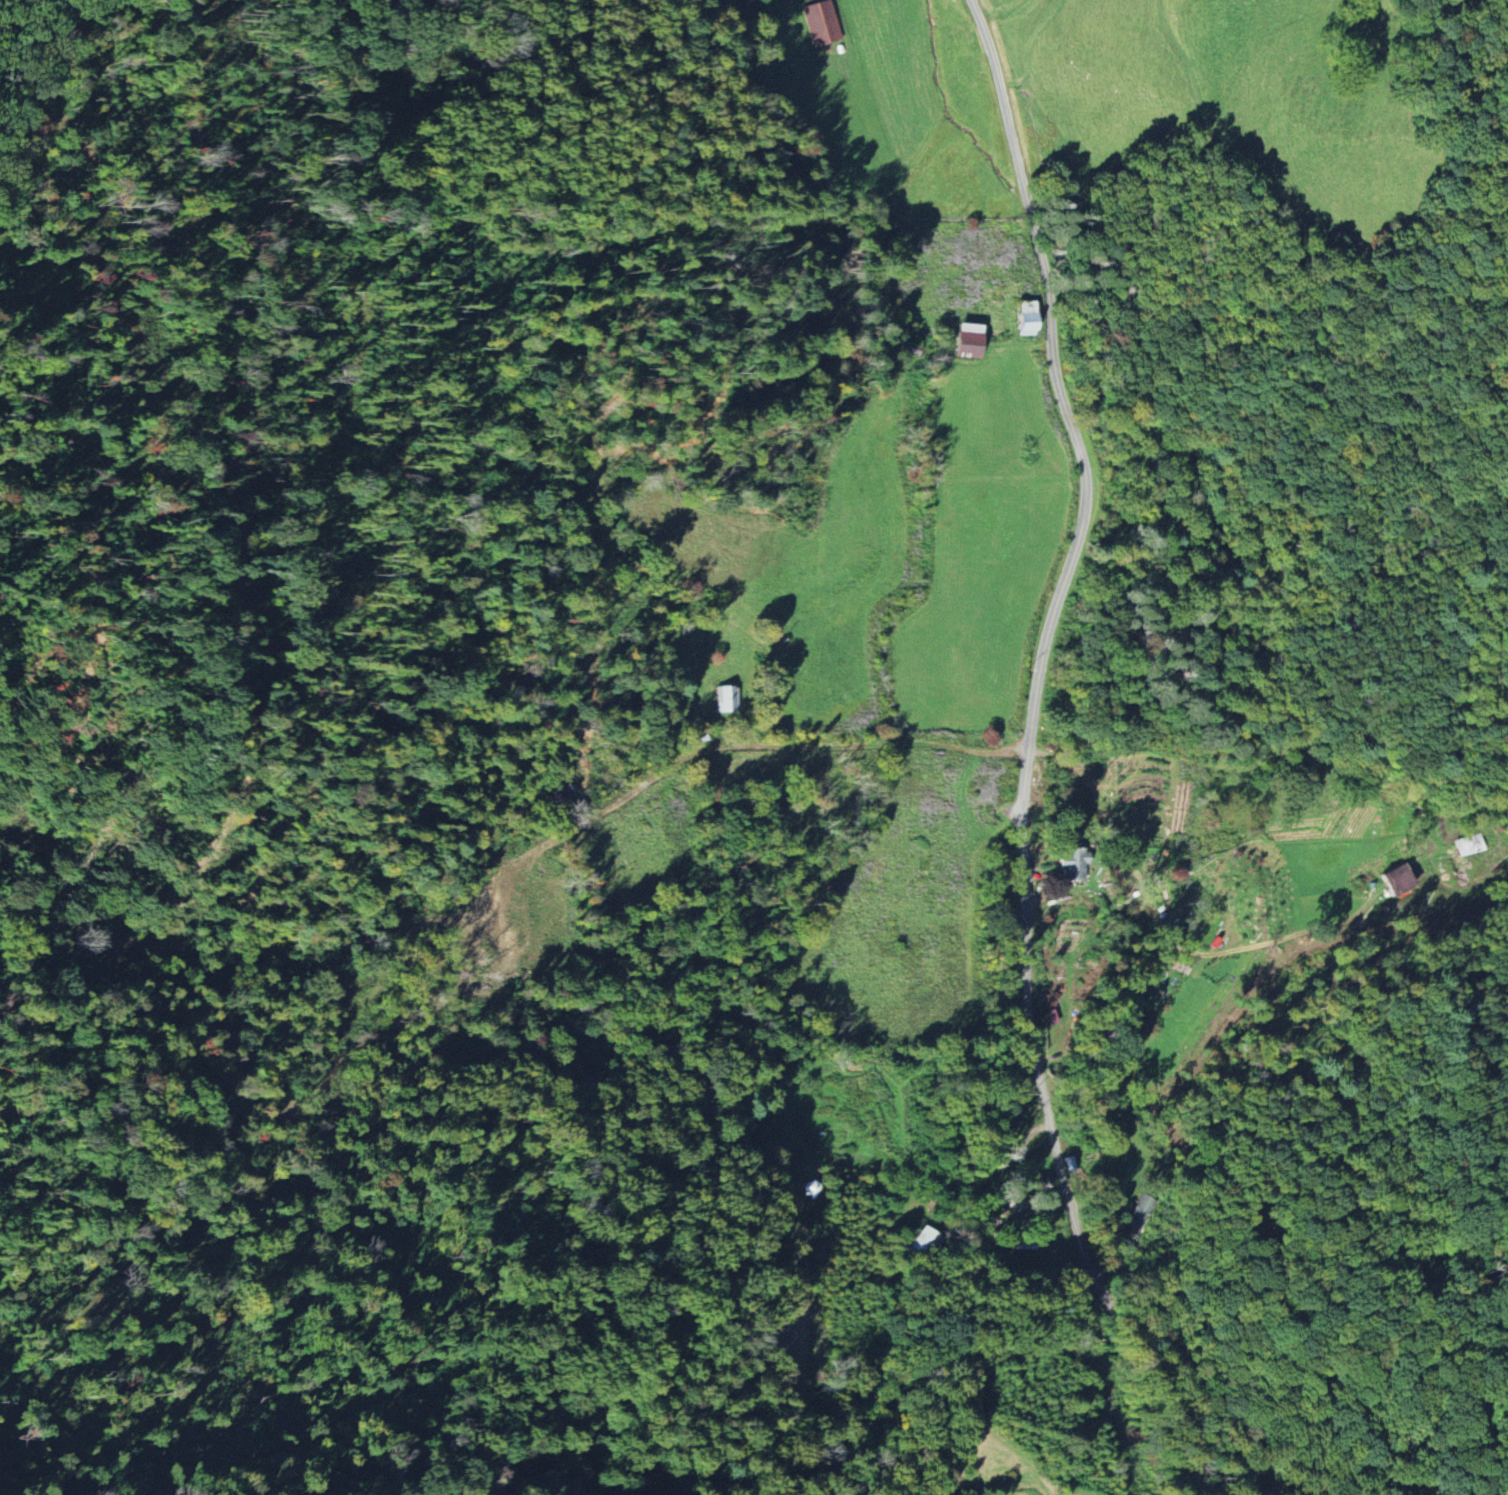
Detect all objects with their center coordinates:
building: (820, 23)
road: (1011, 131)
building: (1026, 321)
building: (967, 341)
road: (1084, 505)
building: (725, 698)
building: (561, 795)
building: (1469, 845)
building: (1073, 863)
building: (1396, 879)
road: (1170, 927)
road: (1029, 973)
building: (1069, 1164)
road: (934, 1190)
building: (920, 1243)
road: (1134, 1348)

